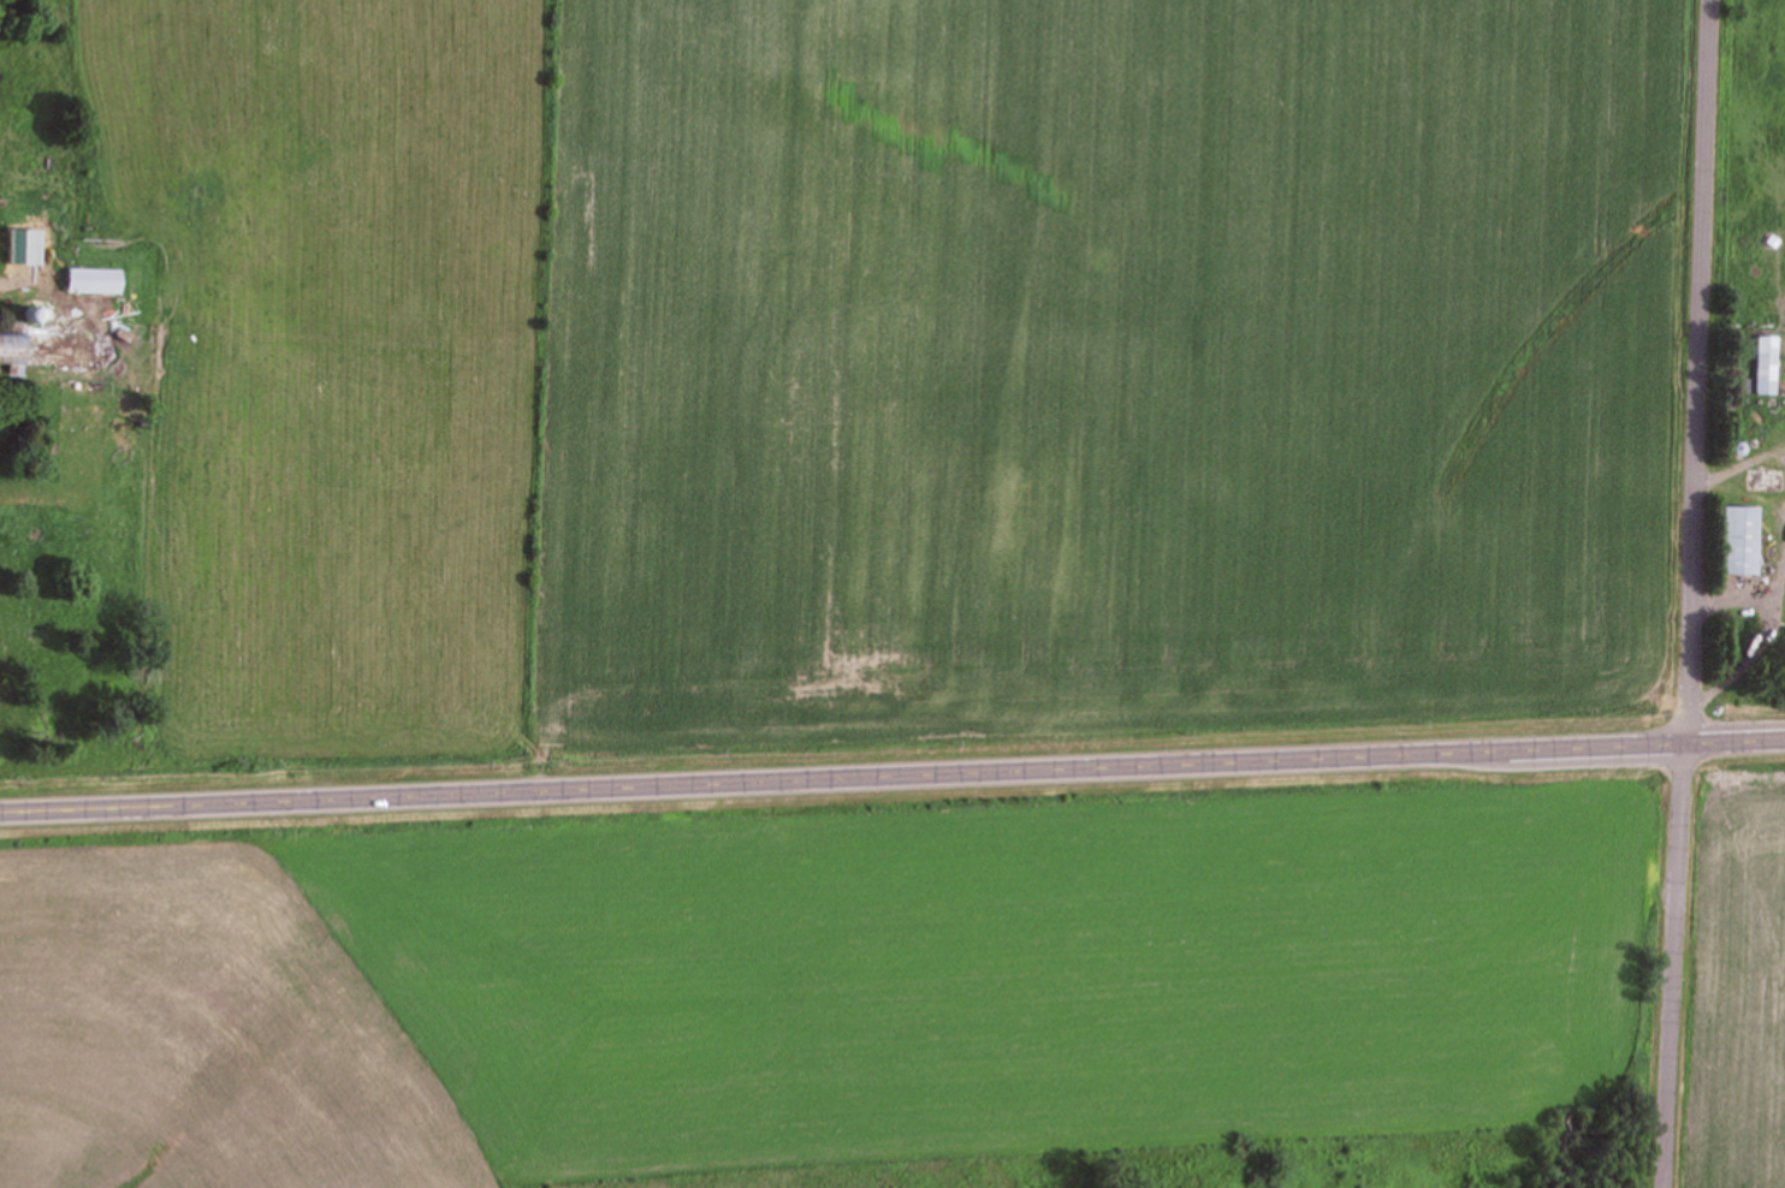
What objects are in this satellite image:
building: (93, 280)
building: (35, 350)
building: (1765, 364)
building: (1738, 540)
road: (1683, 594)
road: (892, 773)

